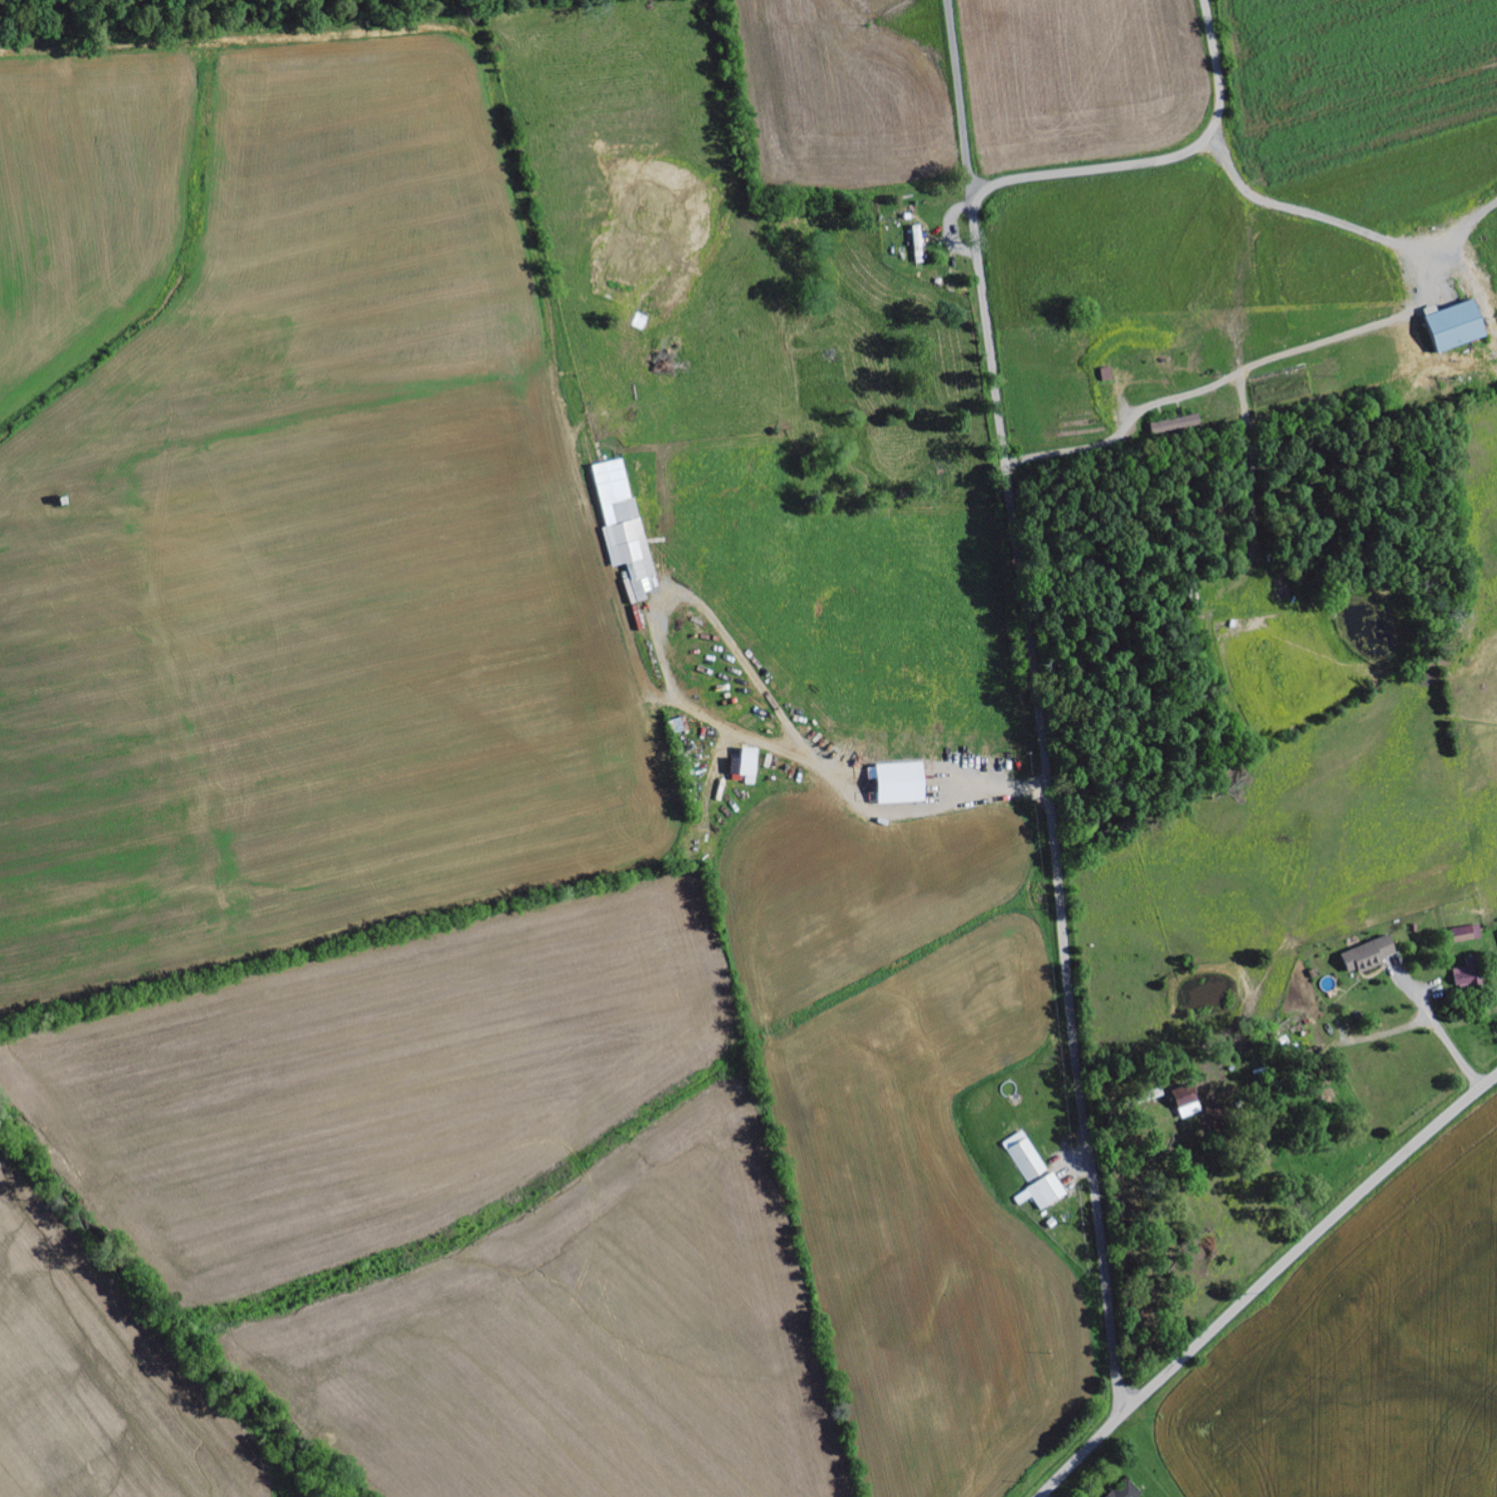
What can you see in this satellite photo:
road: (959, 92)
road: (1160, 158)
building: (918, 244)
building: (1455, 326)
building: (1175, 425)
building: (624, 526)
building: (745, 765)
building: (899, 783)
road: (1049, 799)
building: (1466, 934)
building: (1367, 956)
building: (1467, 974)
building: (1187, 1107)
building: (1025, 1157)
building: (1047, 1193)
road: (1264, 1281)
building: (1125, 1491)

